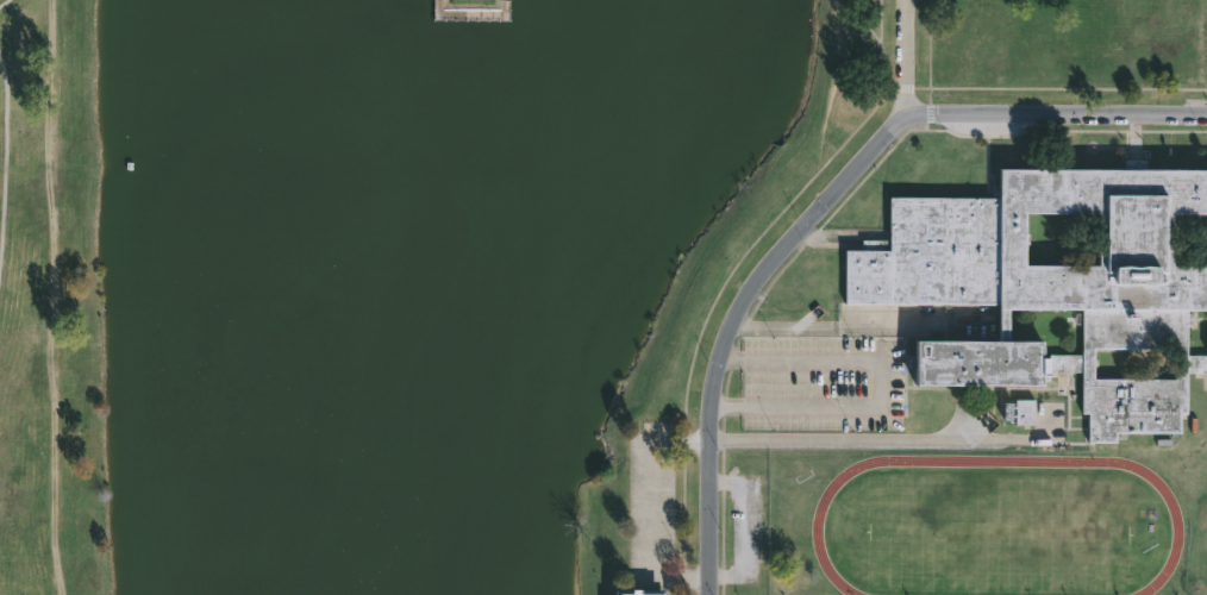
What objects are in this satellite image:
road: (4, 2)
road: (861, 20)
road: (882, 23)
road: (1053, 112)
road: (10, 167)
road: (759, 275)
park: (390, 277)
building: (1050, 282)
road: (719, 293)
road: (823, 326)
parking lot: (826, 383)
road: (881, 388)
building: (1020, 412)
road: (889, 440)
park: (999, 533)
park: (1196, 552)
building: (642, 593)

